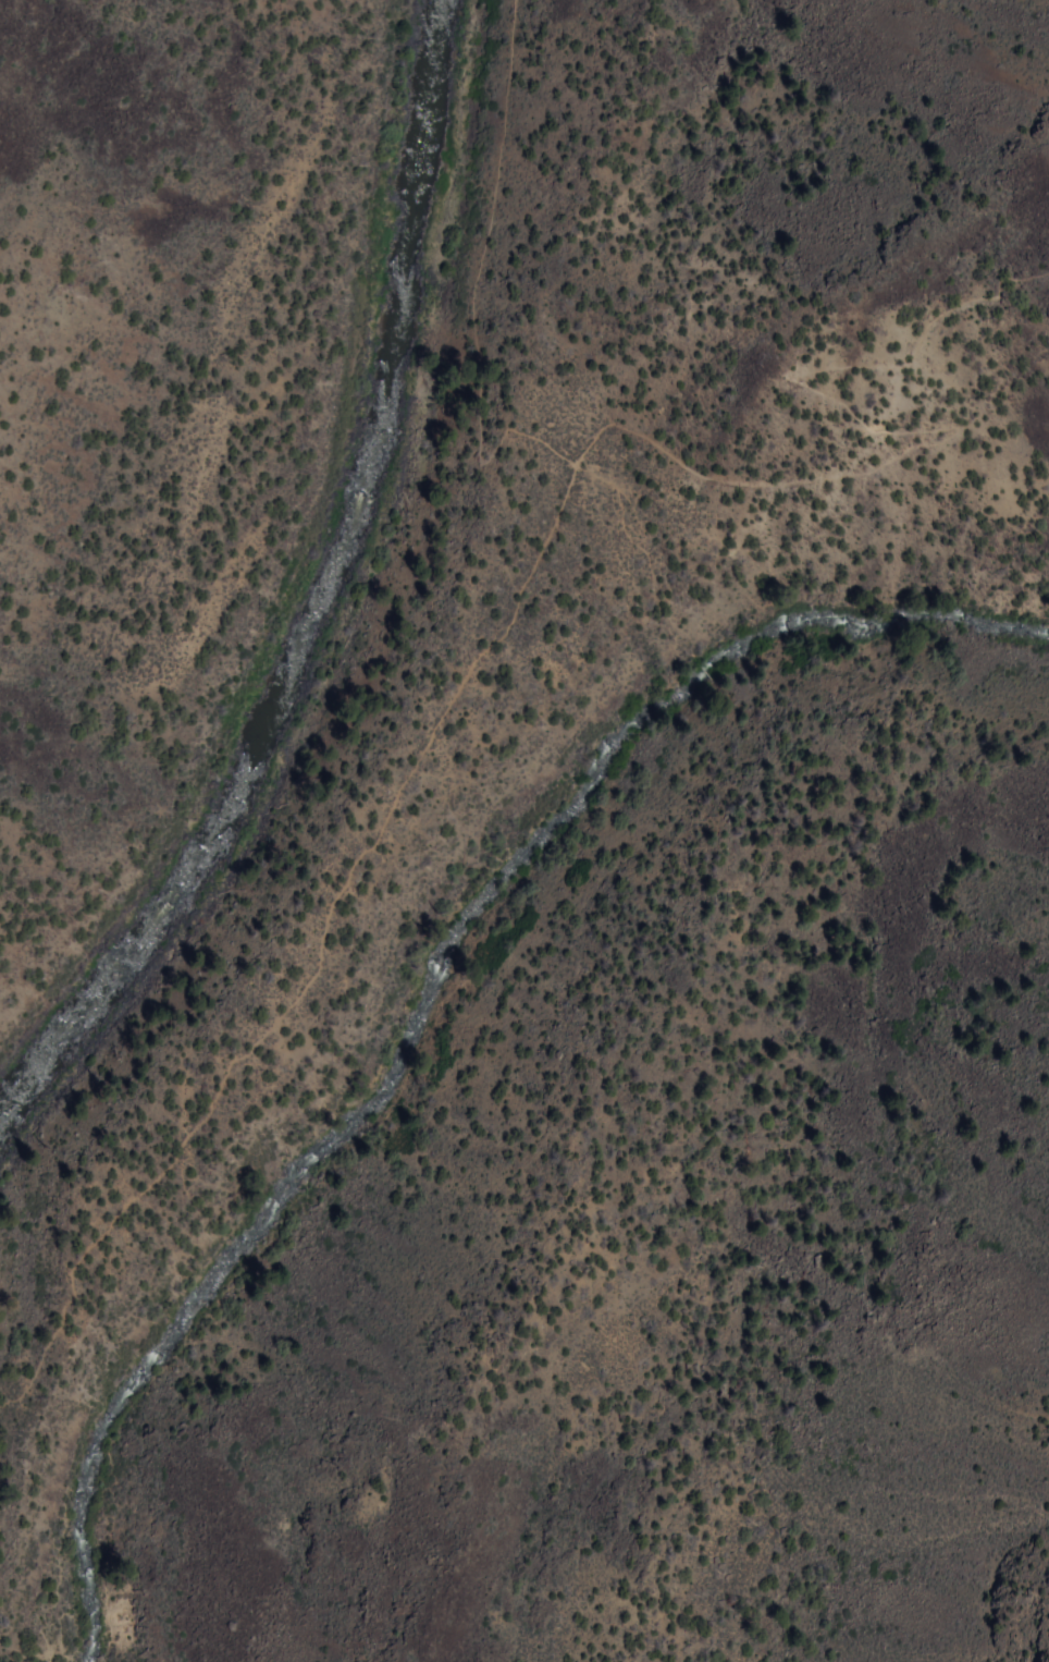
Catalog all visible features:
road: (474, 292)
road: (538, 550)
road: (642, 552)
river: (337, 616)
road: (5, 1620)

